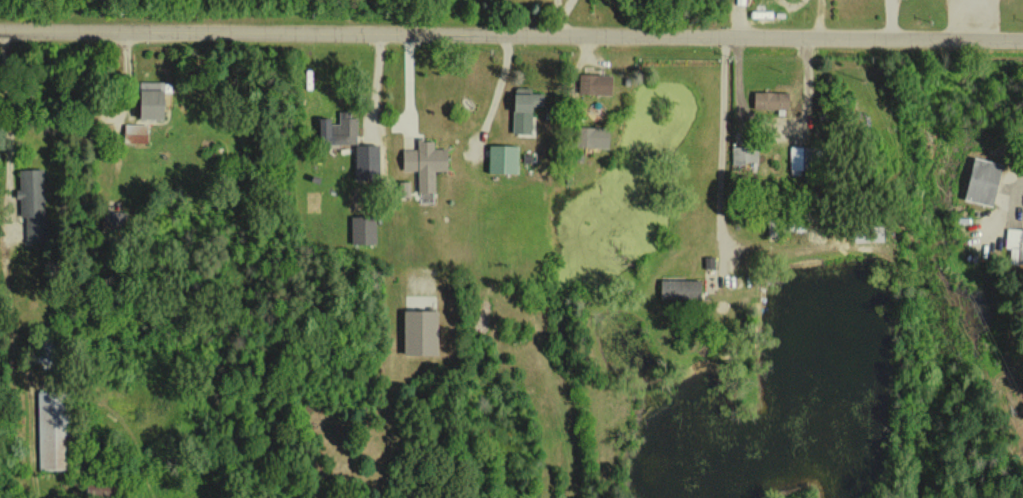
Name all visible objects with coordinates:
road: (511, 31)
road: (739, 81)
building: (594, 83)
building: (148, 99)
building: (769, 99)
building: (523, 108)
building: (337, 129)
building: (134, 133)
building: (591, 136)
road: (726, 137)
building: (743, 154)
building: (501, 158)
road: (1, 159)
building: (365, 160)
building: (799, 160)
building: (424, 162)
building: (981, 181)
building: (403, 188)
building: (30, 192)
building: (362, 229)
building: (866, 233)
building: (1014, 245)
building: (679, 289)
building: (418, 331)
building: (51, 429)

